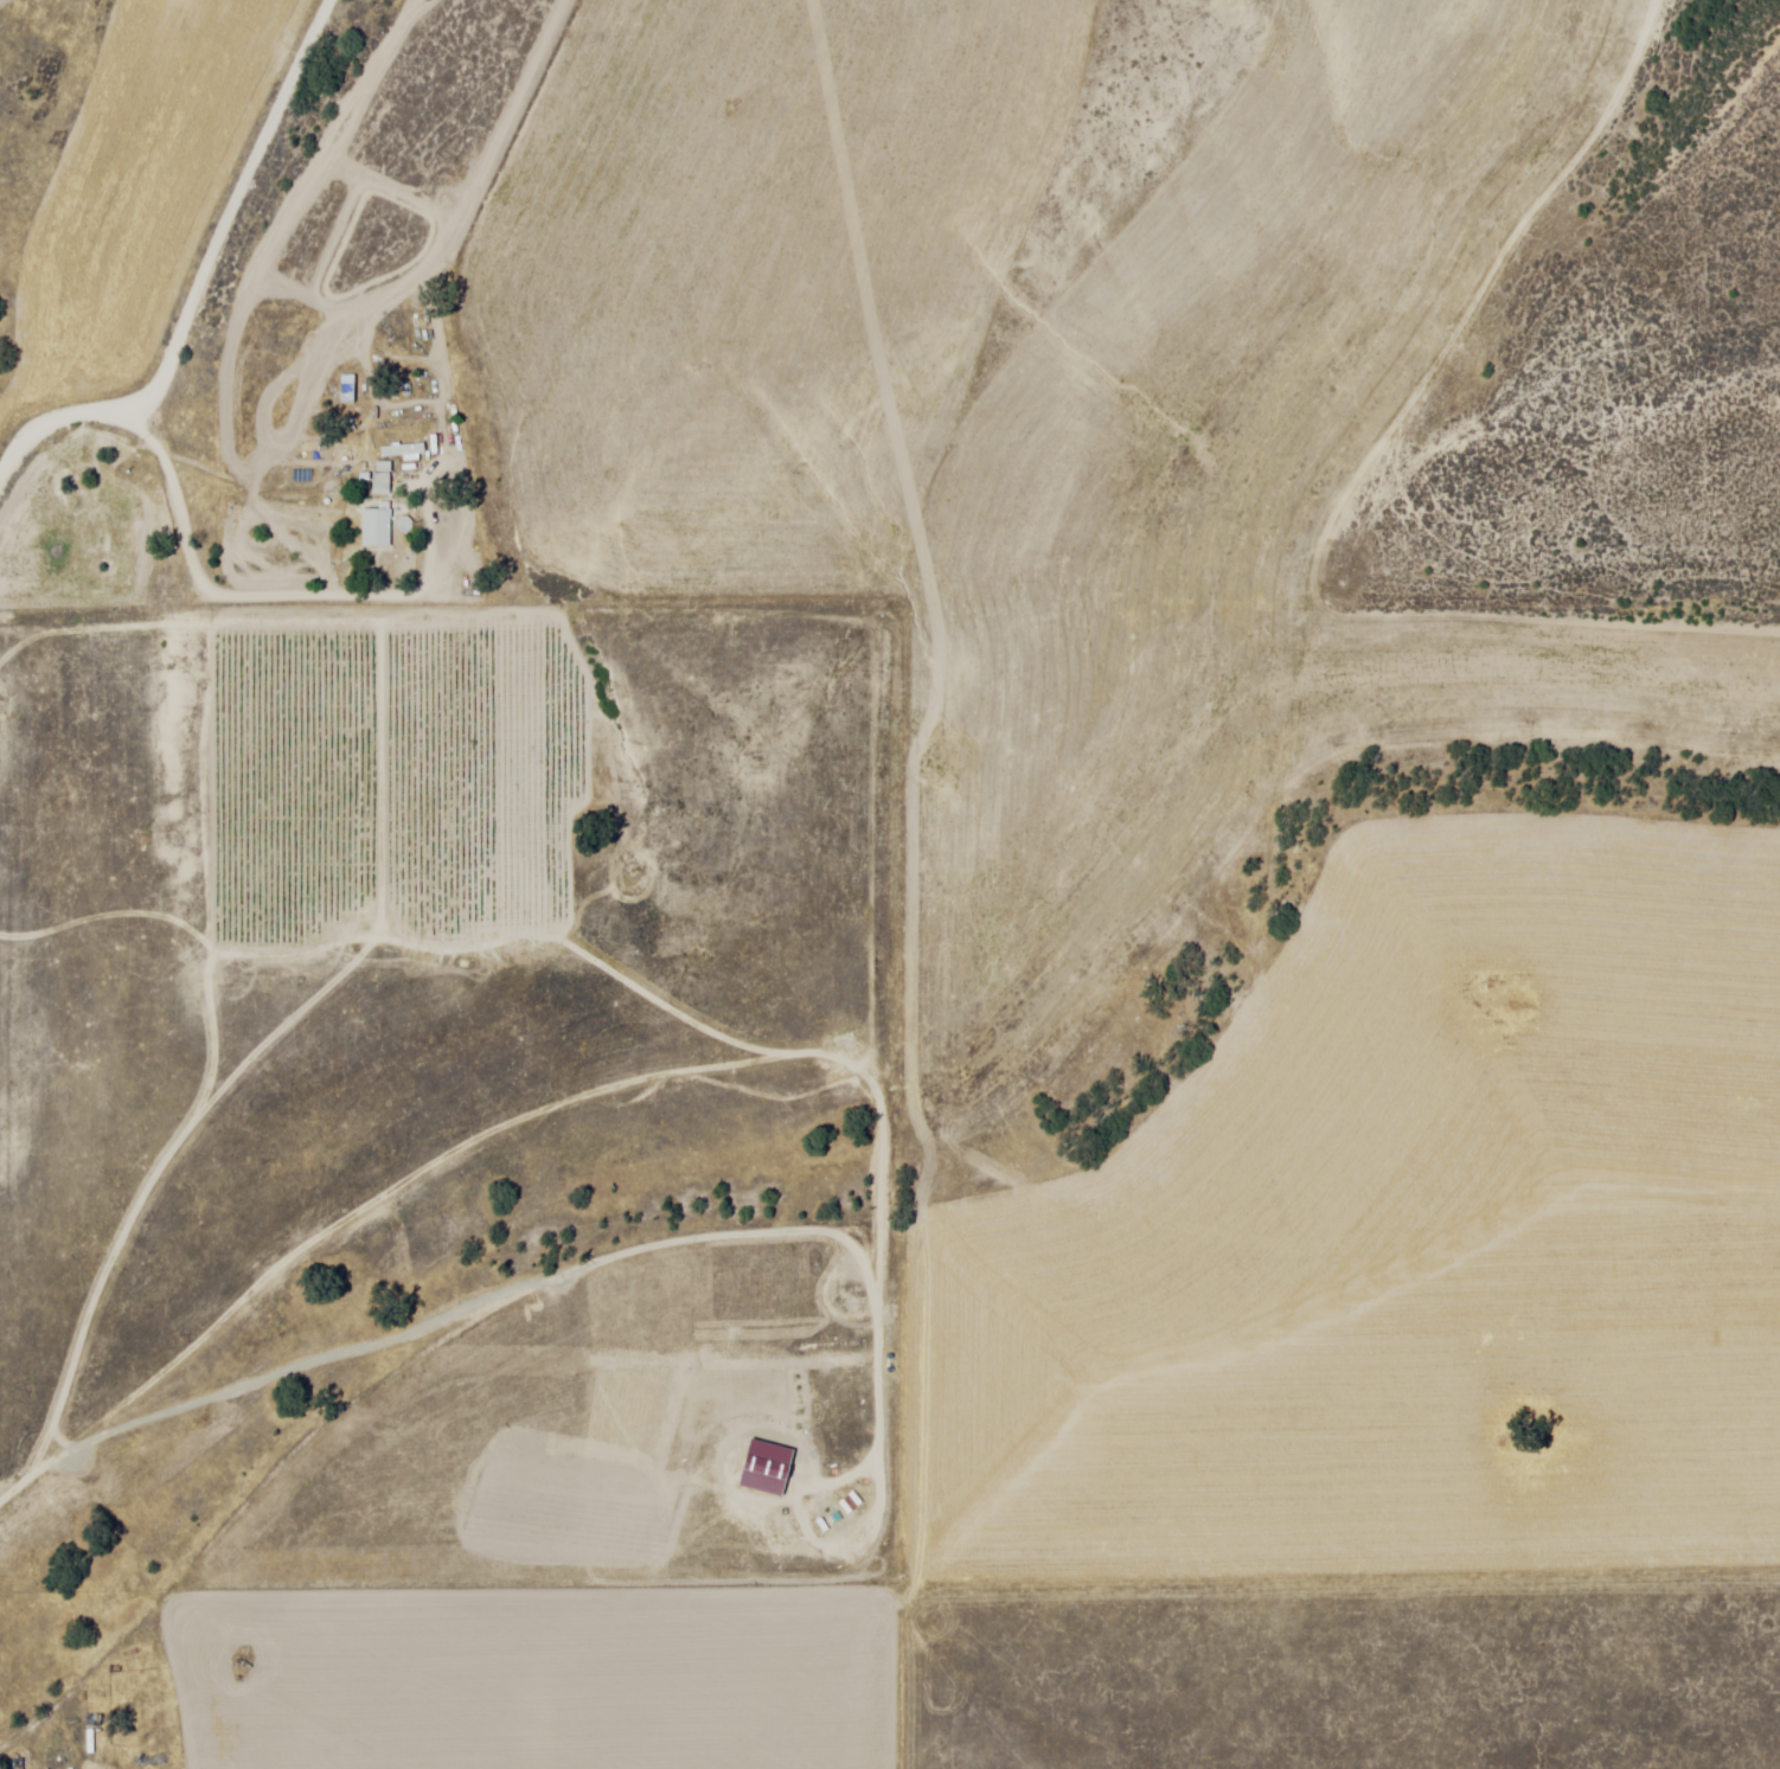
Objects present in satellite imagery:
road: (206, 209)
building: (346, 389)
road: (43, 425)
building: (401, 451)
building: (379, 477)
building: (374, 527)
road: (217, 596)

